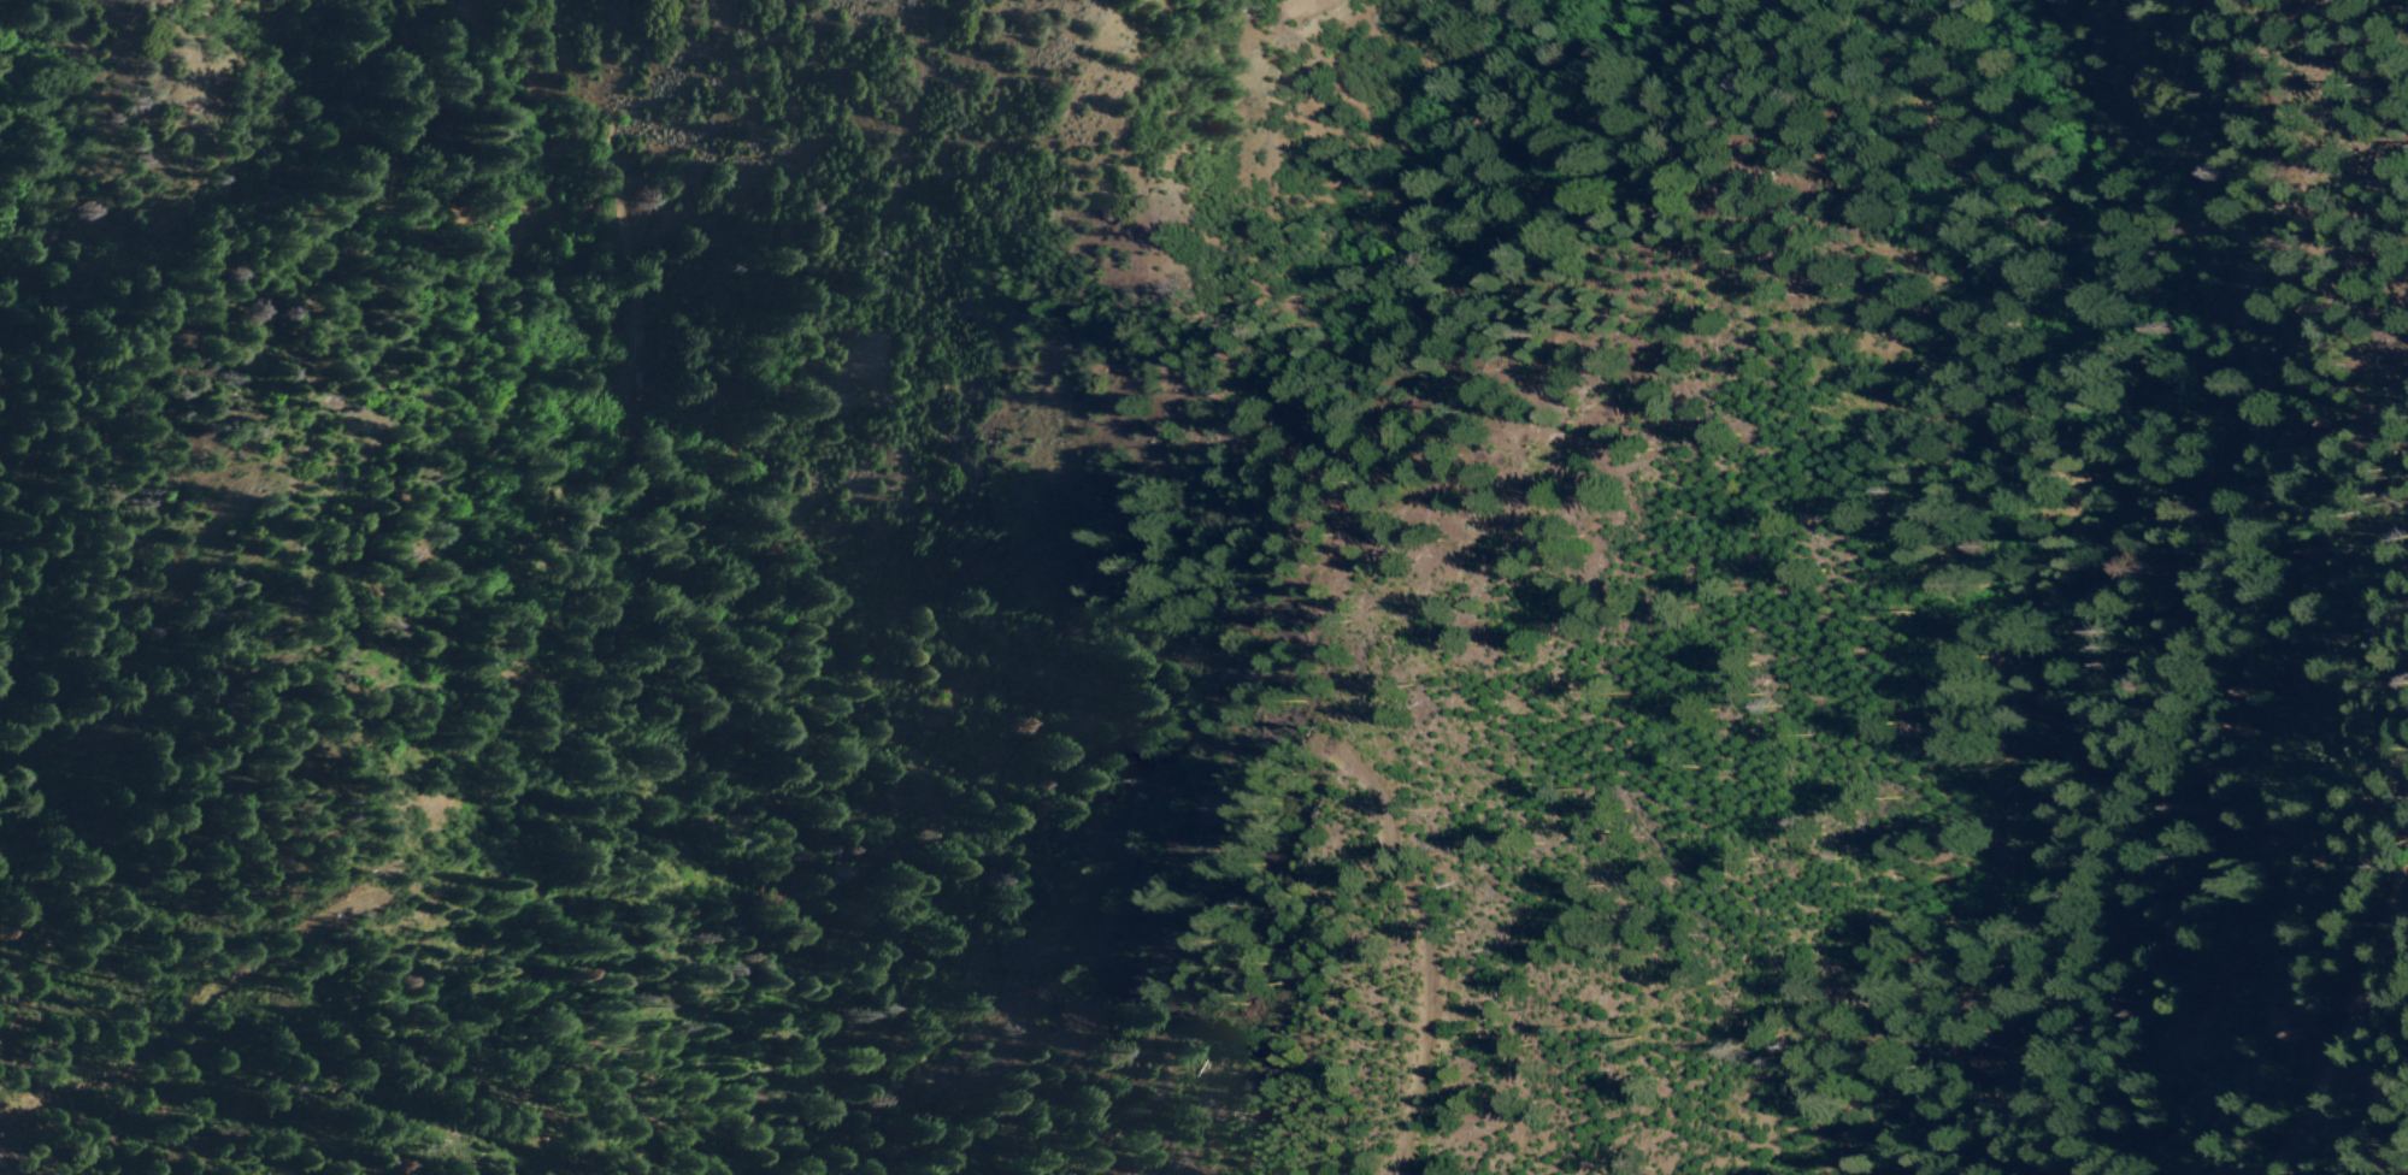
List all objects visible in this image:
road: (2326, 1039)

